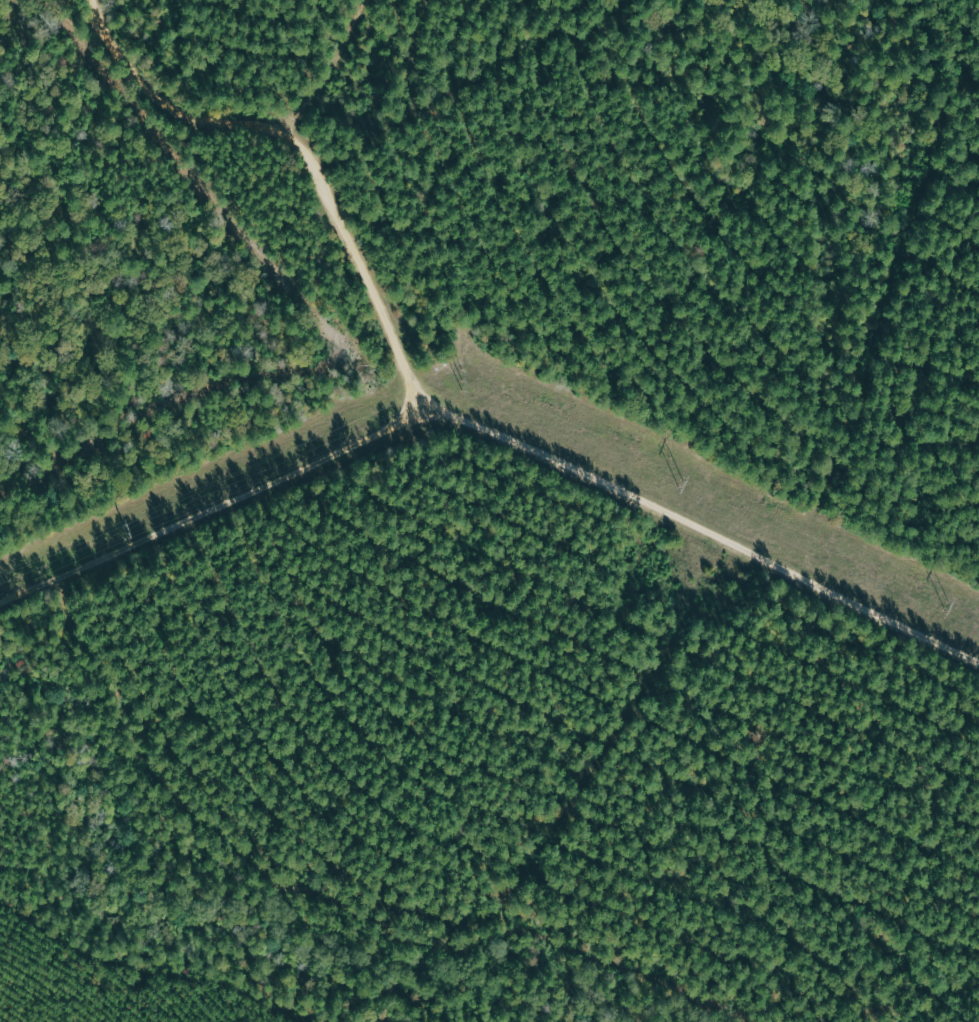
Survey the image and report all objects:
road: (295, 142)
power tower: (464, 378)
road: (514, 381)
power tower: (682, 481)
power tower: (123, 526)
power tower: (947, 605)

